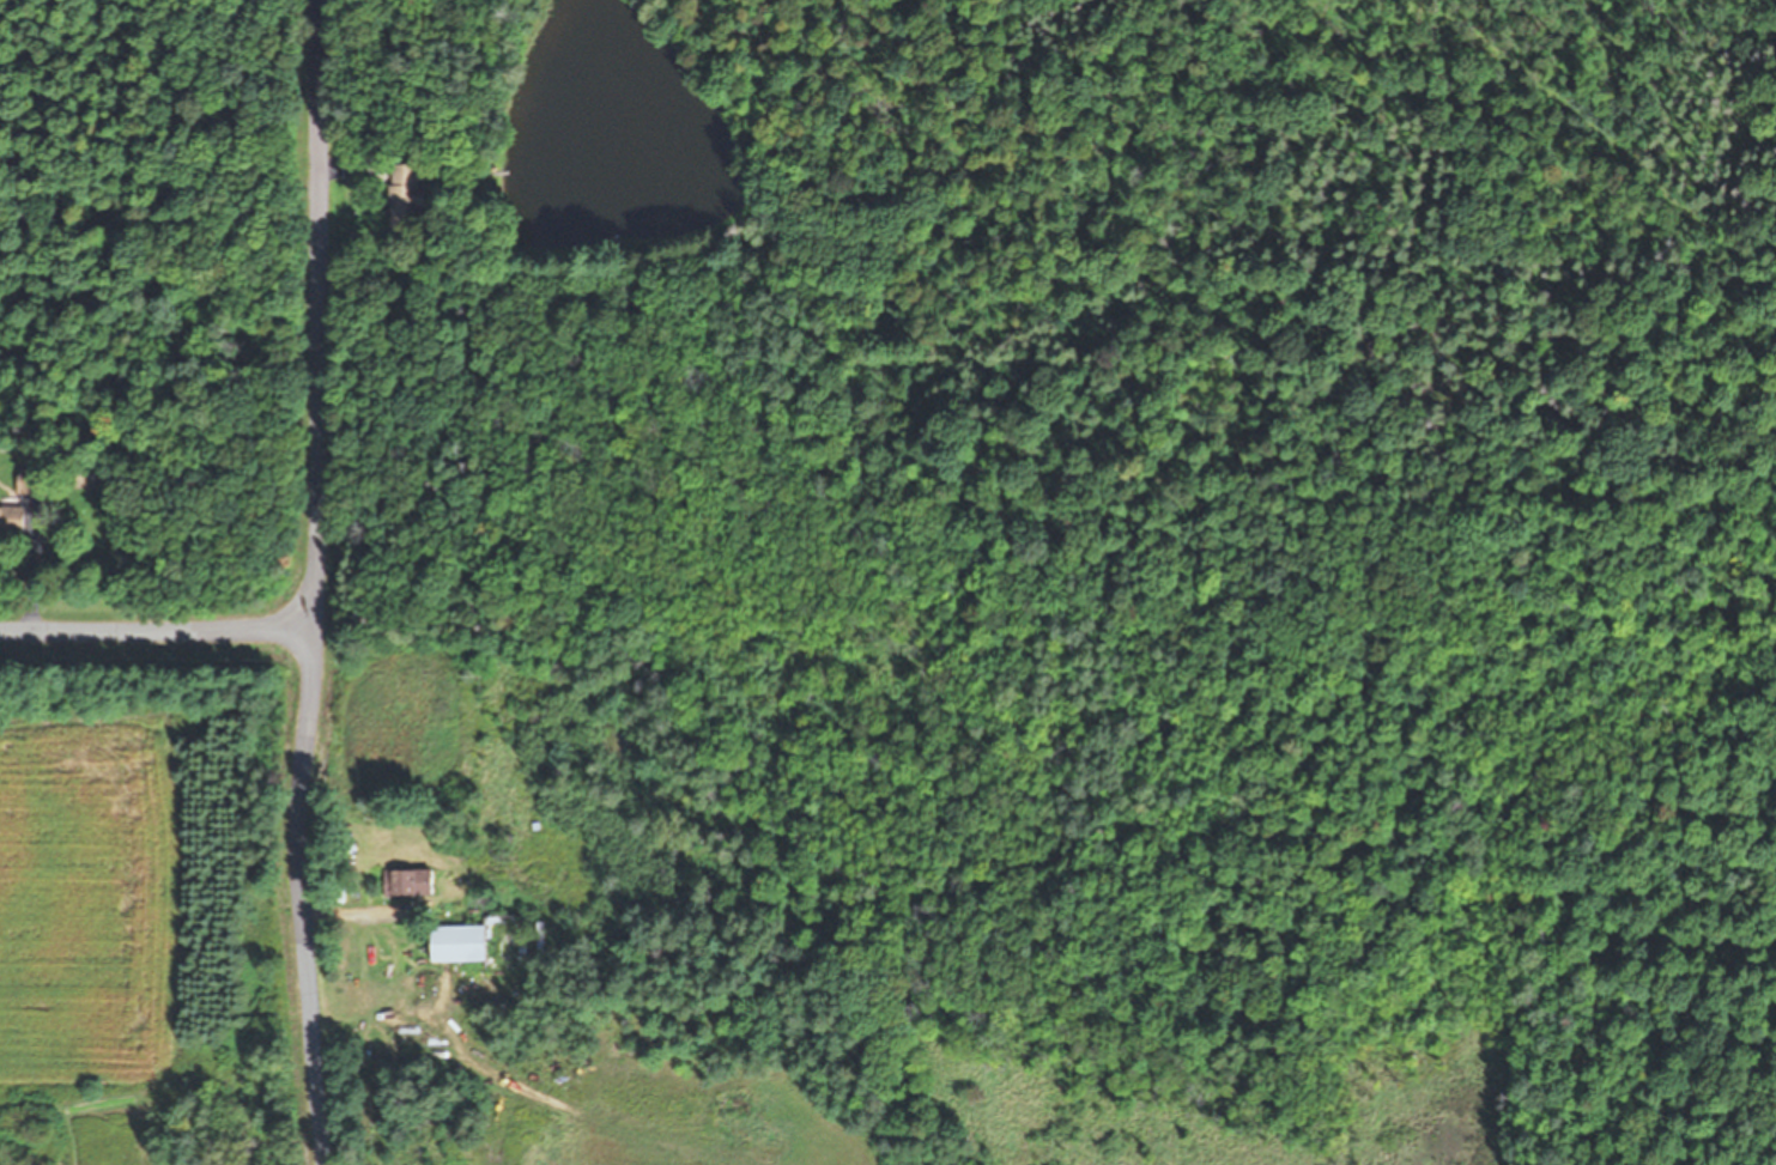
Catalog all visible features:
building: (404, 196)
building: (30, 480)
building: (13, 520)
road: (316, 583)
road: (157, 627)
building: (412, 882)
building: (487, 942)

